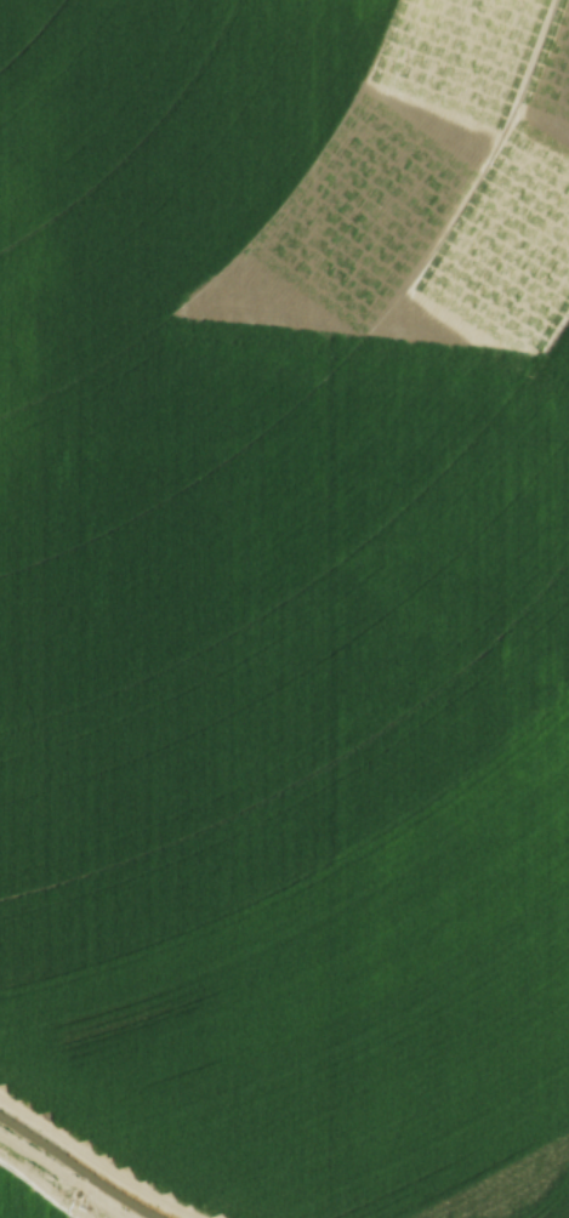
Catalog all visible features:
road: (101, 1160)
road: (68, 1172)

